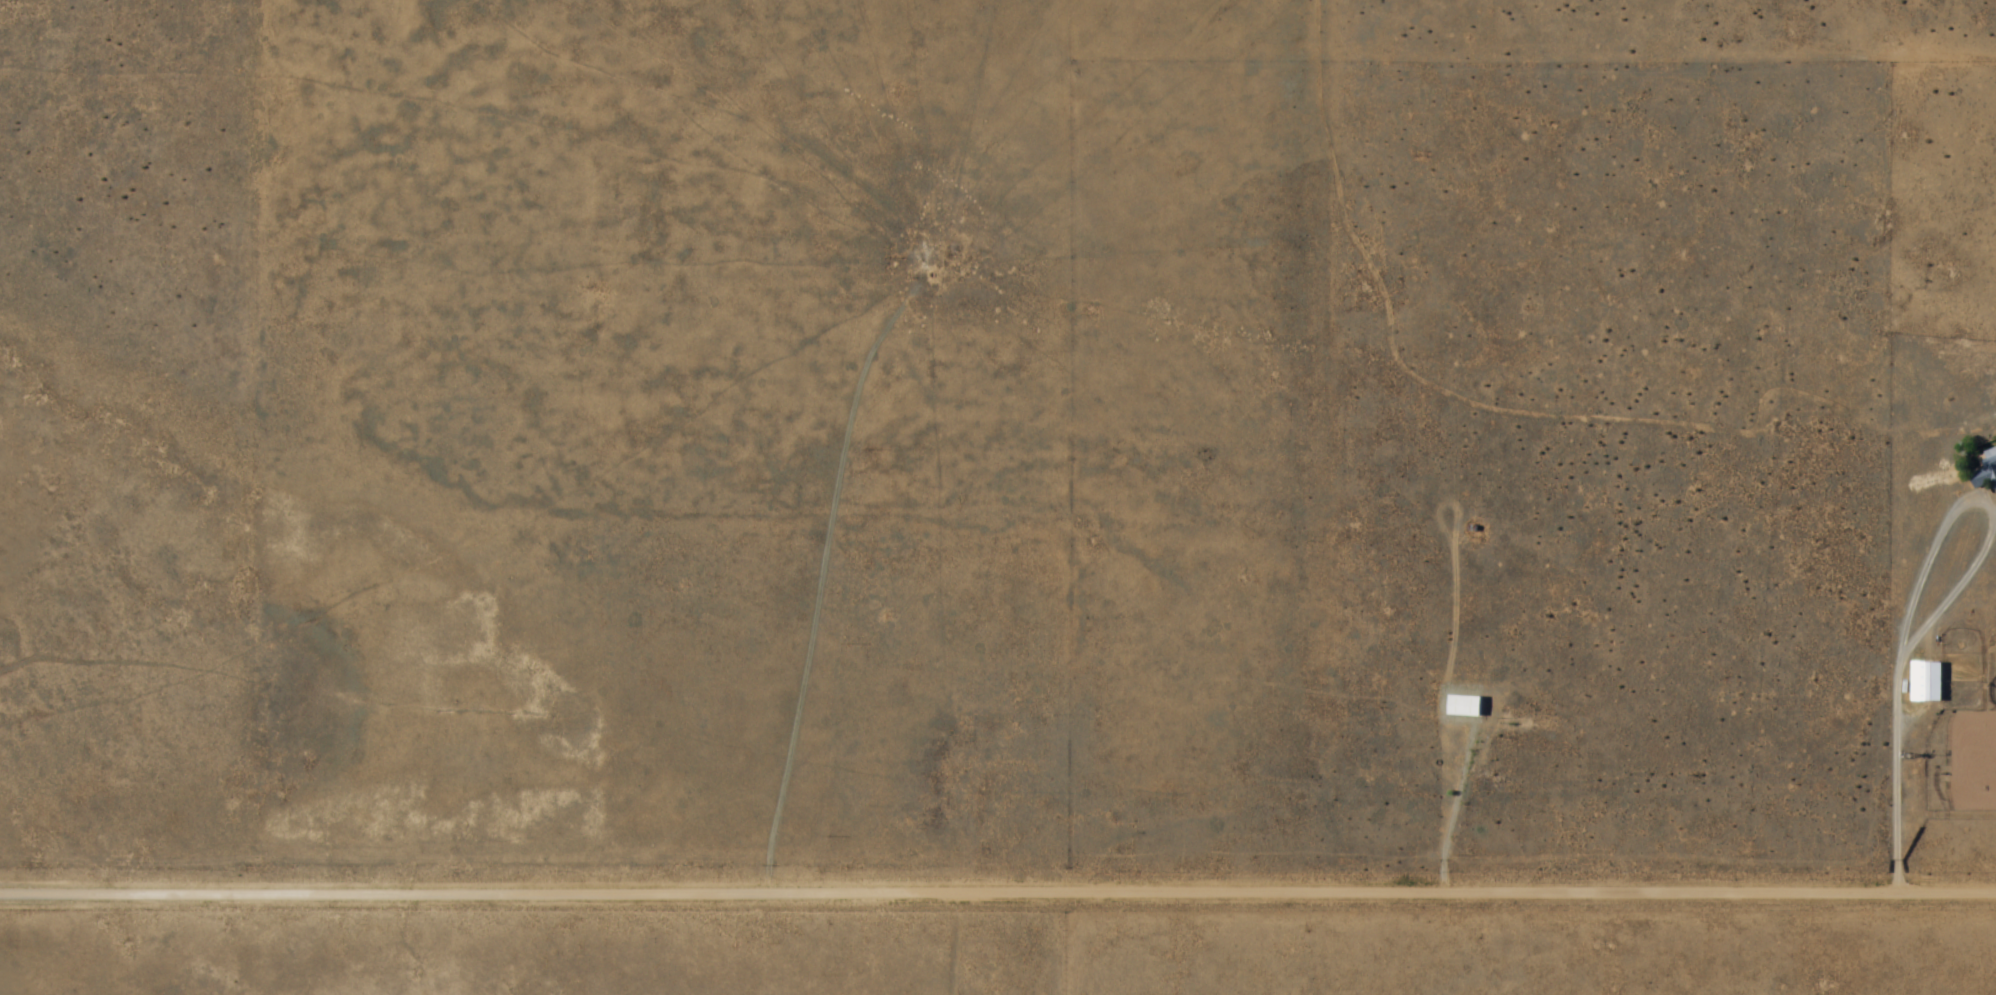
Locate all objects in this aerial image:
building: (1986, 472)
building: (1926, 682)
building: (1465, 707)
road: (998, 896)

